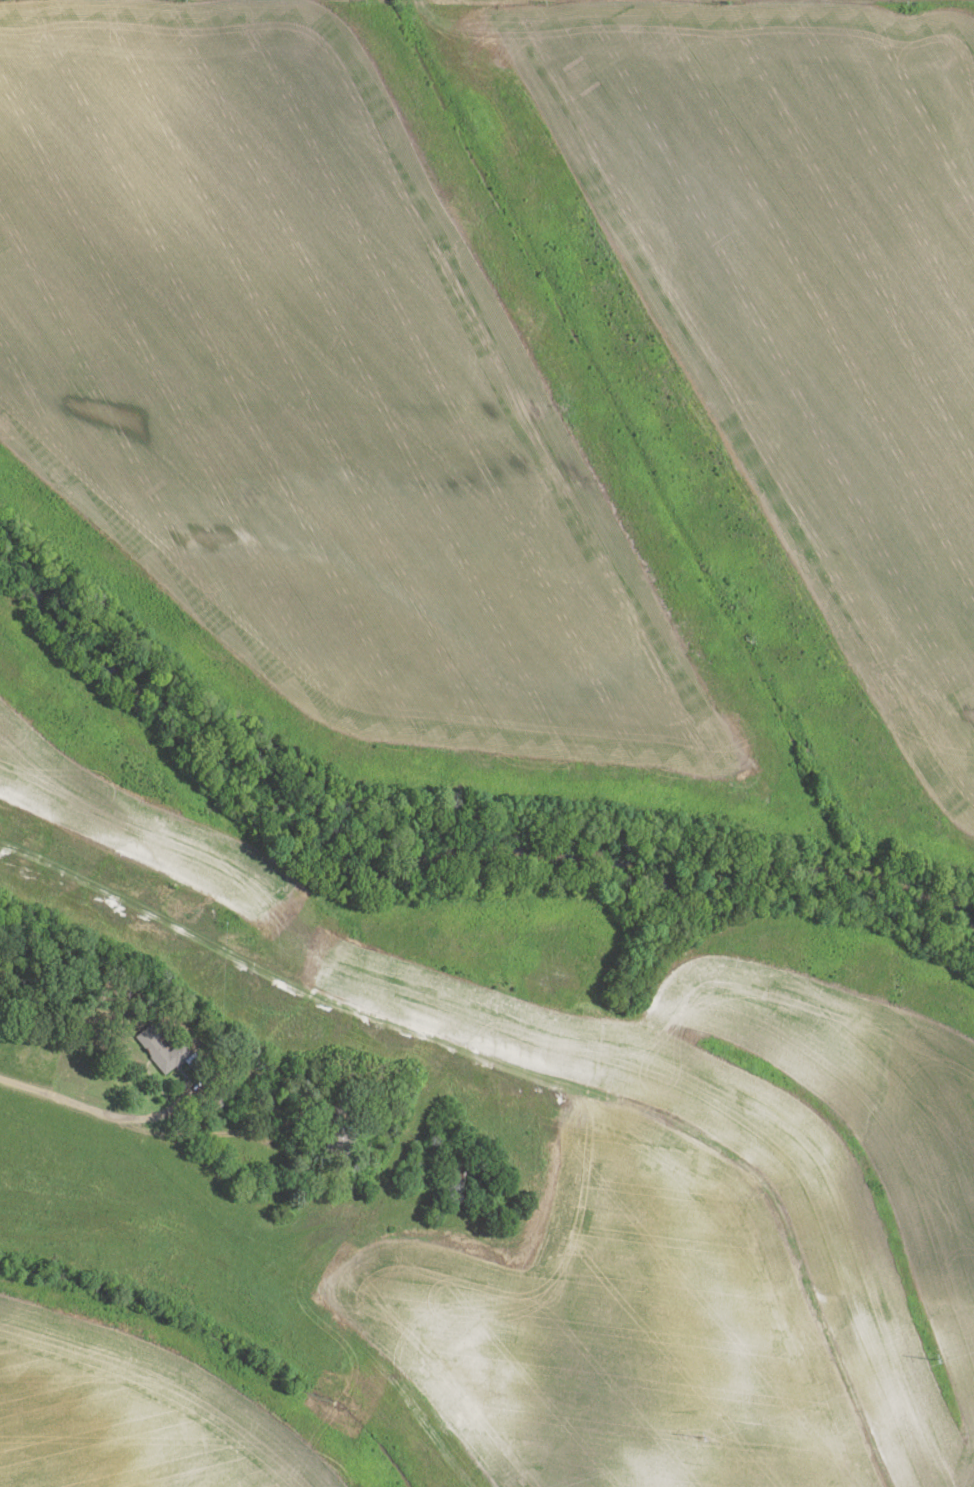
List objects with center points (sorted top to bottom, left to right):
building: (174, 1051)

